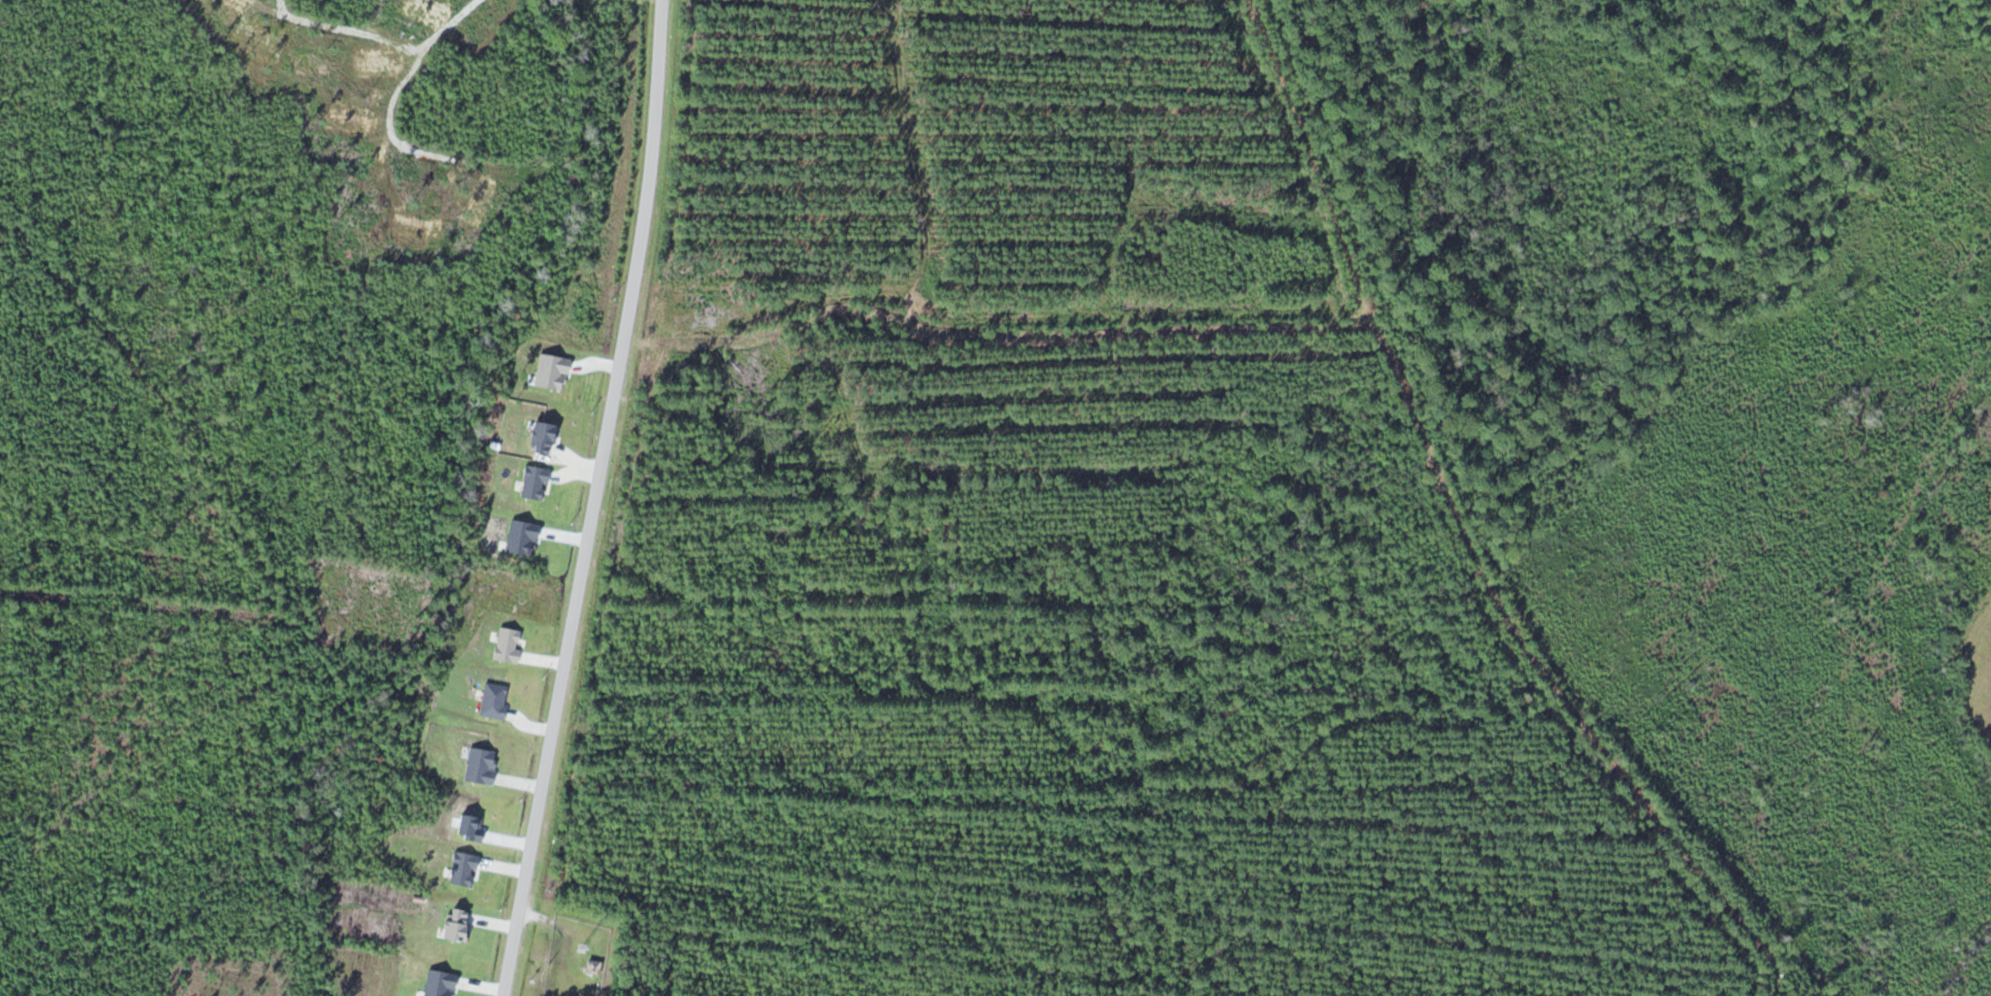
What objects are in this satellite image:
road: (613, 500)
road: (1466, 523)
building: (590, 967)

